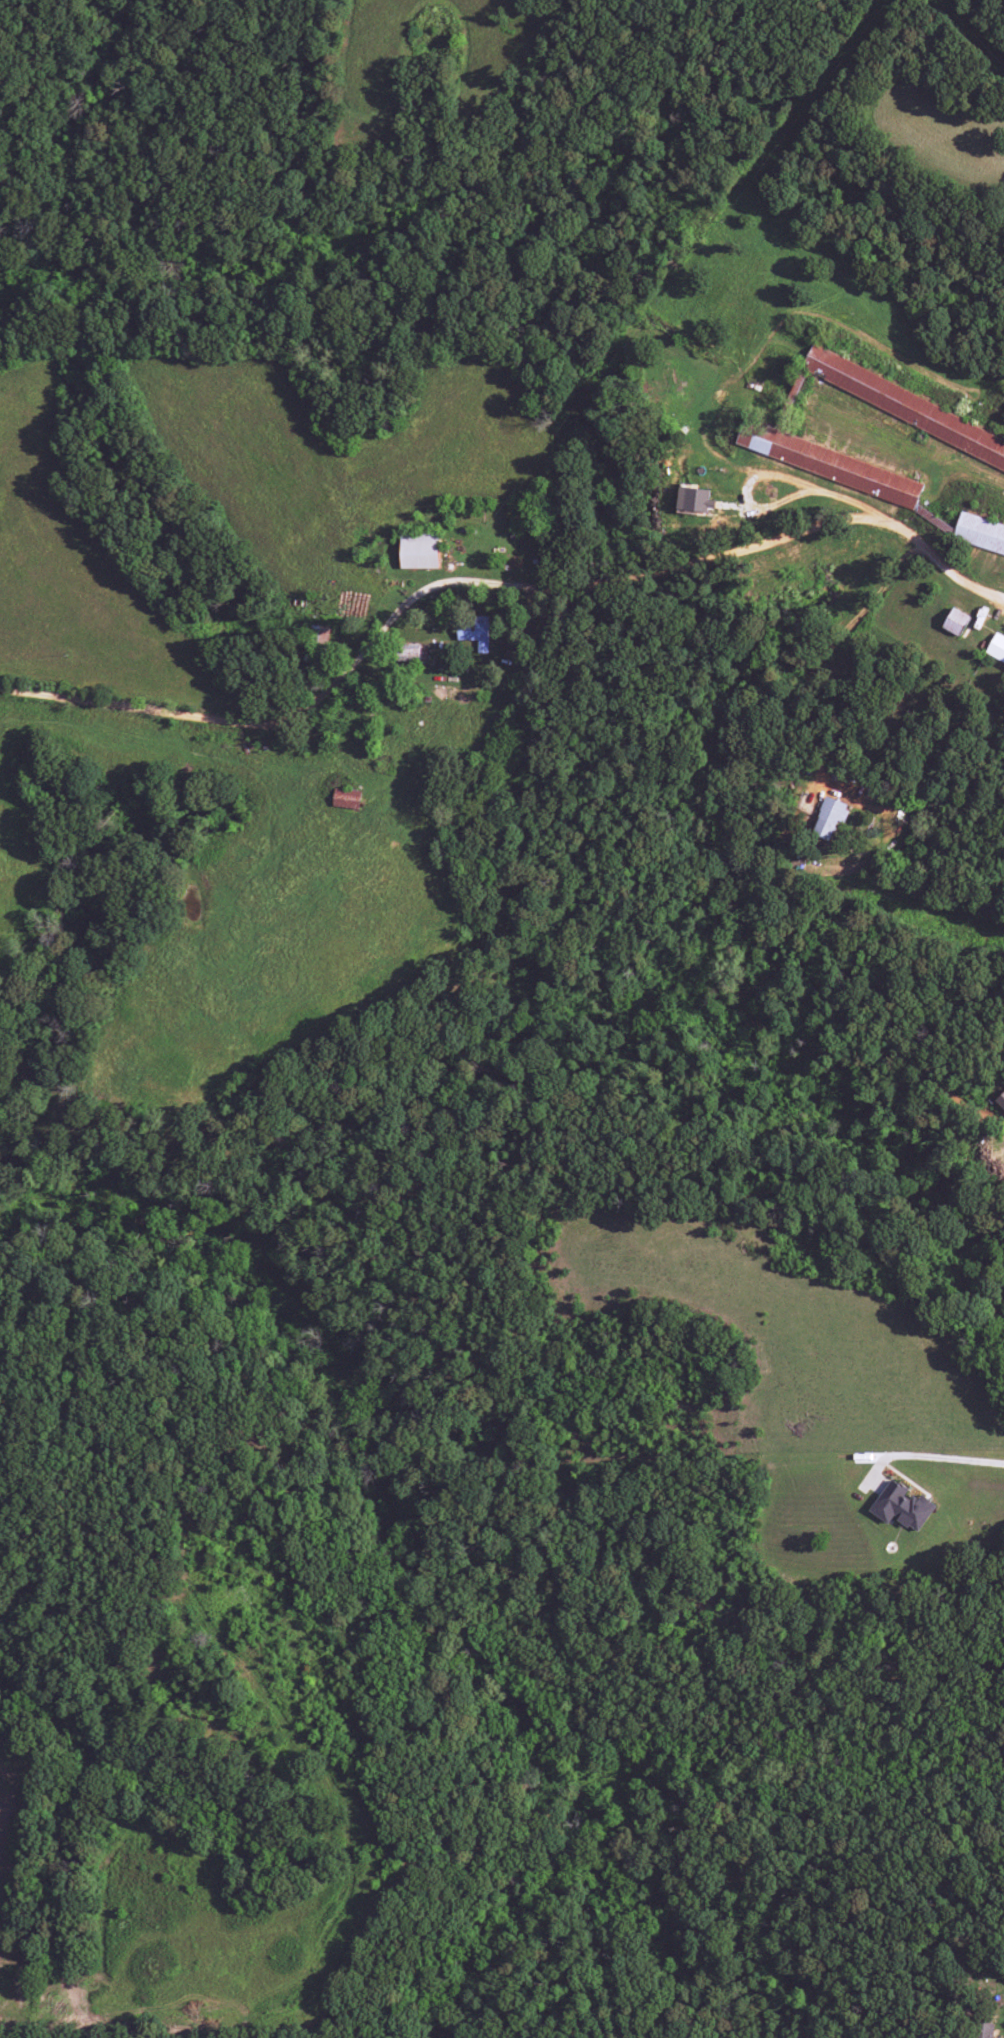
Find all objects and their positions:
building: (905, 406)
building: (829, 463)
building: (694, 499)
building: (419, 552)
road: (492, 583)
building: (955, 621)
building: (475, 632)
building: (996, 648)
building: (413, 652)
building: (346, 798)
building: (829, 818)
building: (1000, 1100)
road: (925, 1457)
building: (901, 1506)
building: (983, 2030)

